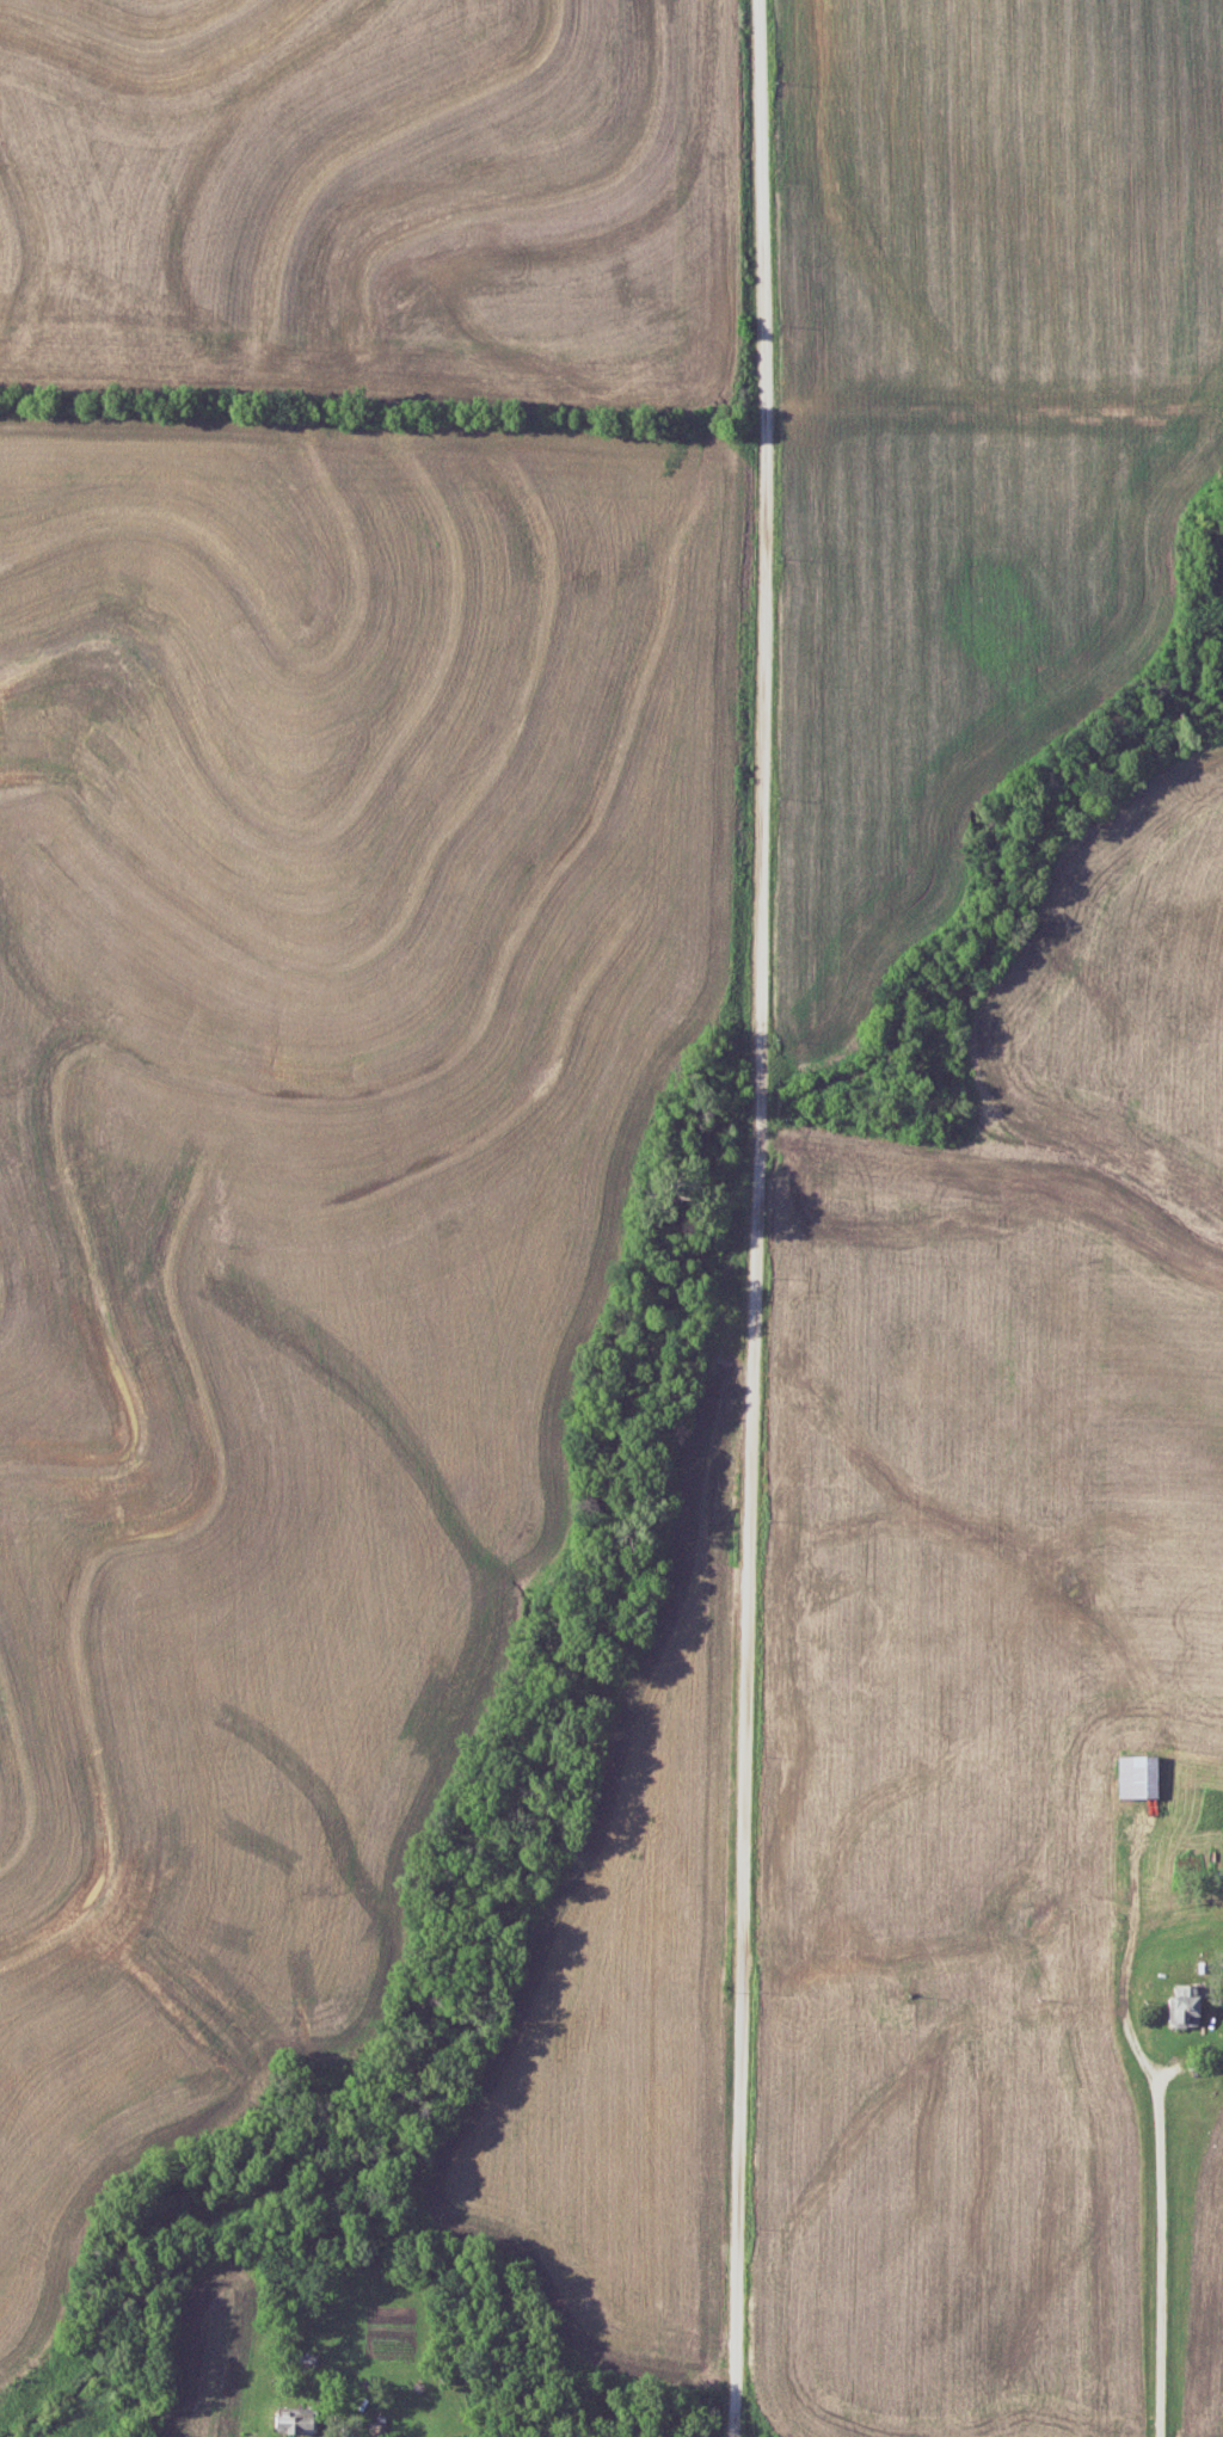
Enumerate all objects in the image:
road: (760, 1218)
building: (1135, 1774)
building: (1181, 2004)
road: (1167, 2185)

